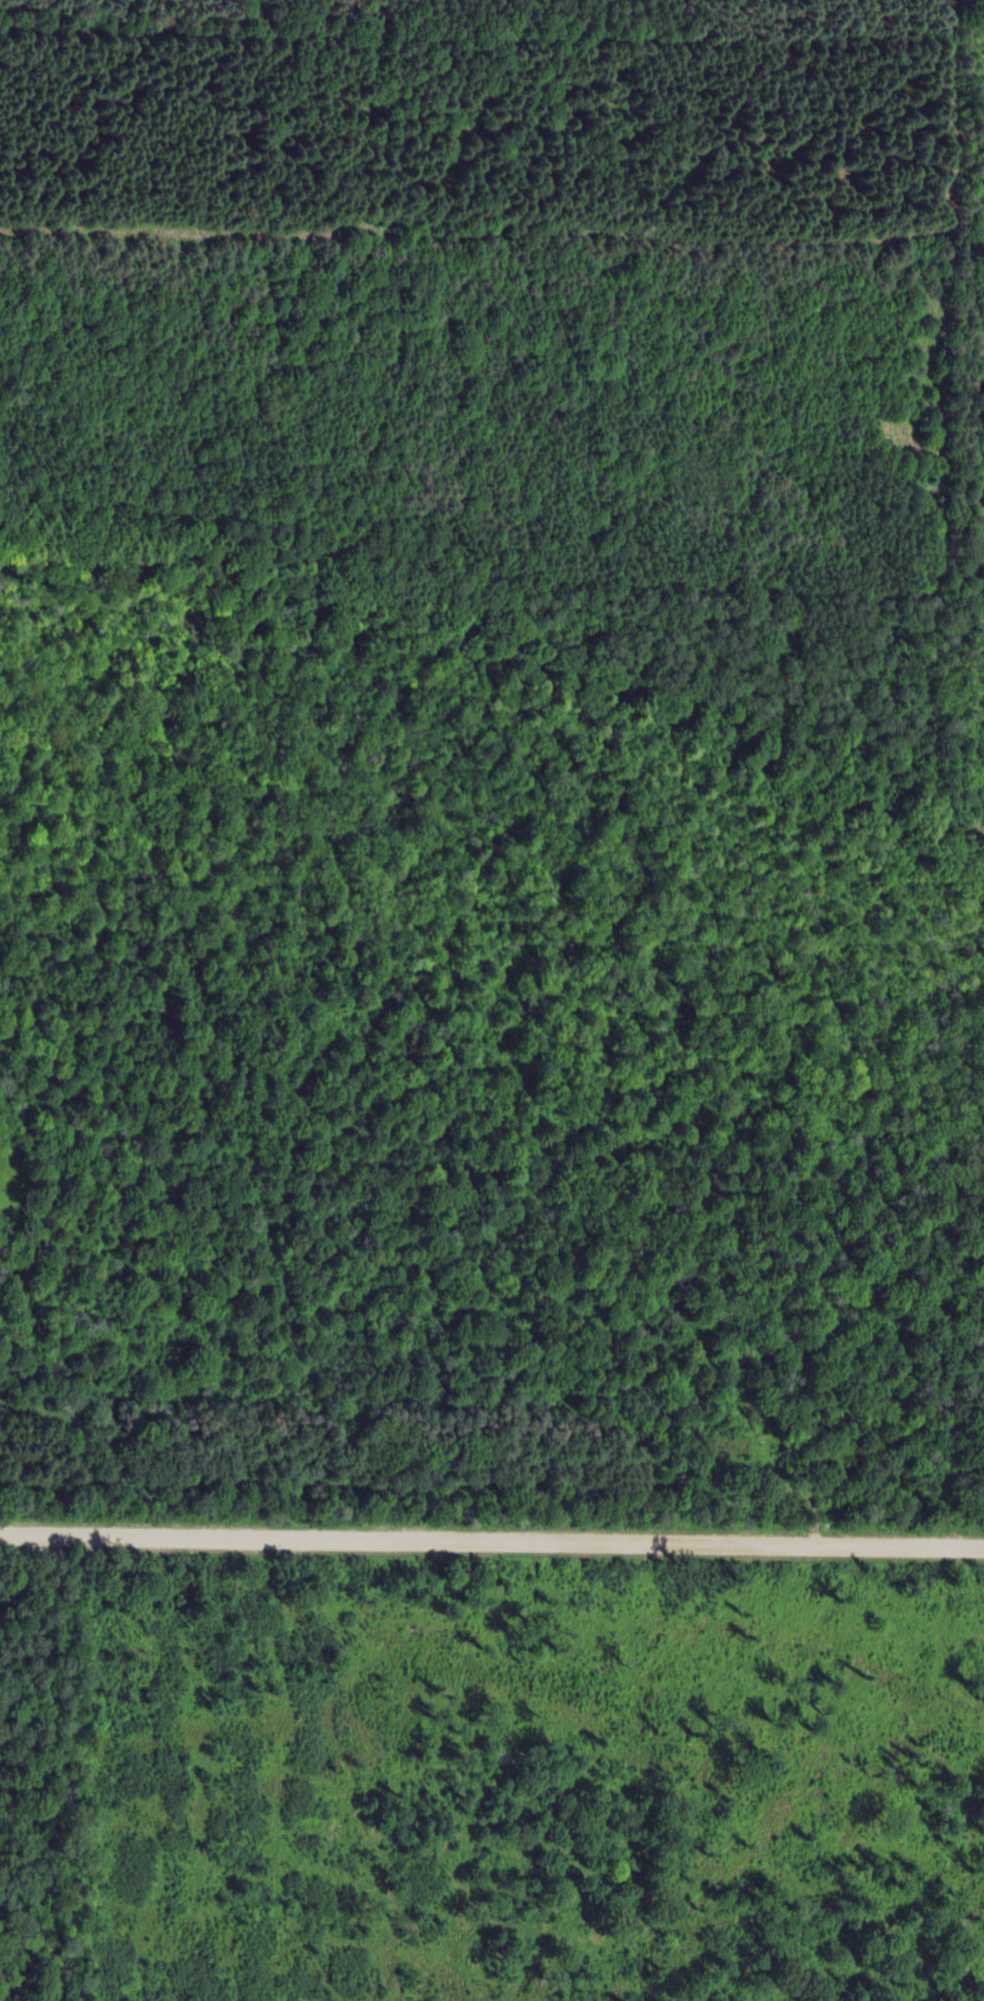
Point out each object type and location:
road: (492, 1536)

